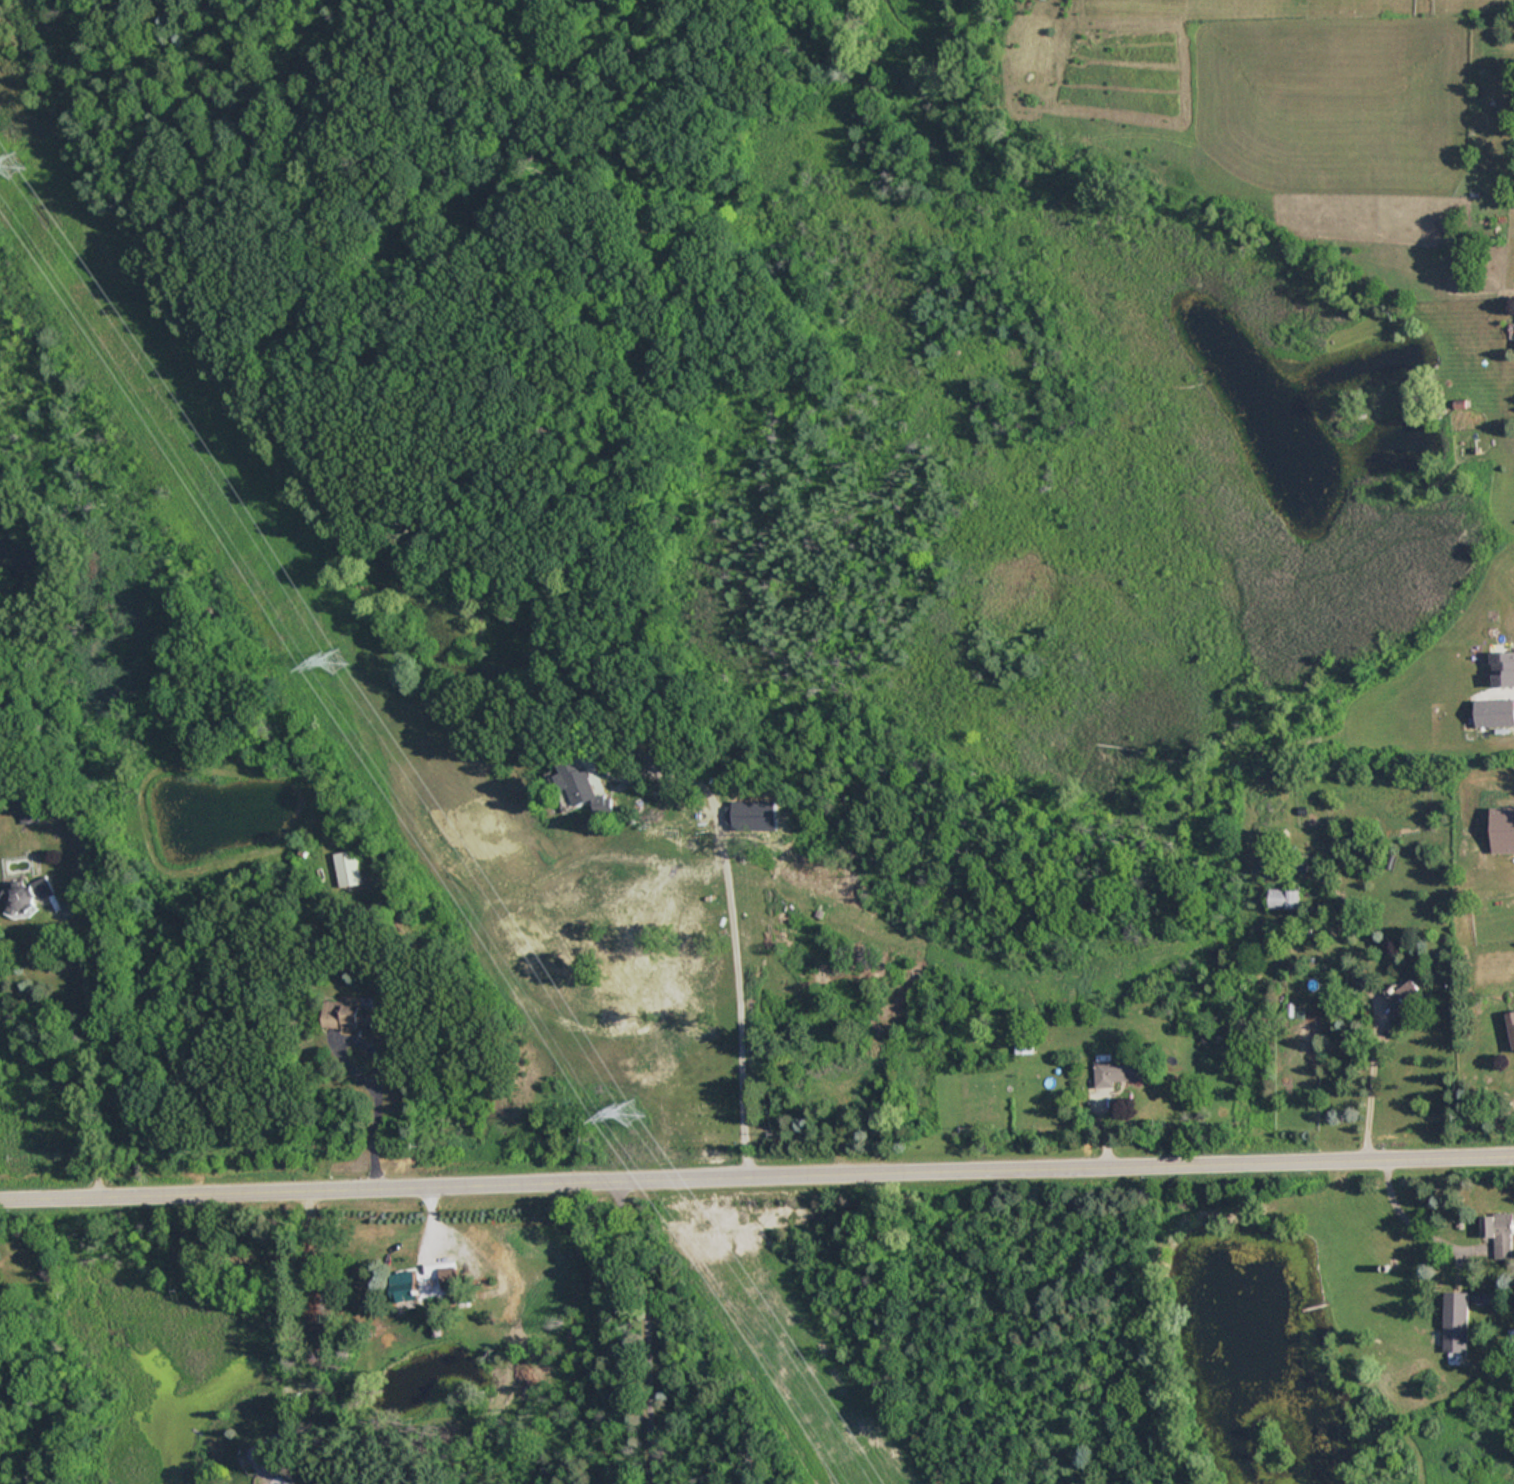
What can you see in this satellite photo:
power tower: (10, 167)
power tower: (332, 660)
building: (1502, 670)
building: (583, 787)
building: (25, 808)
building: (1502, 829)
building: (1269, 867)
building: (346, 868)
building: (26, 894)
building: (1284, 899)
road: (728, 944)
building: (1405, 997)
building: (348, 1016)
building: (1511, 1024)
road: (92, 1050)
building: (1118, 1071)
road: (1370, 1094)
power tower: (631, 1111)
road: (377, 1117)
road: (756, 1173)
road: (1401, 1219)
building: (1499, 1232)
building: (446, 1277)
building: (401, 1285)
road: (313, 1290)
building: (1456, 1309)
road: (646, 1328)
building: (279, 1479)

